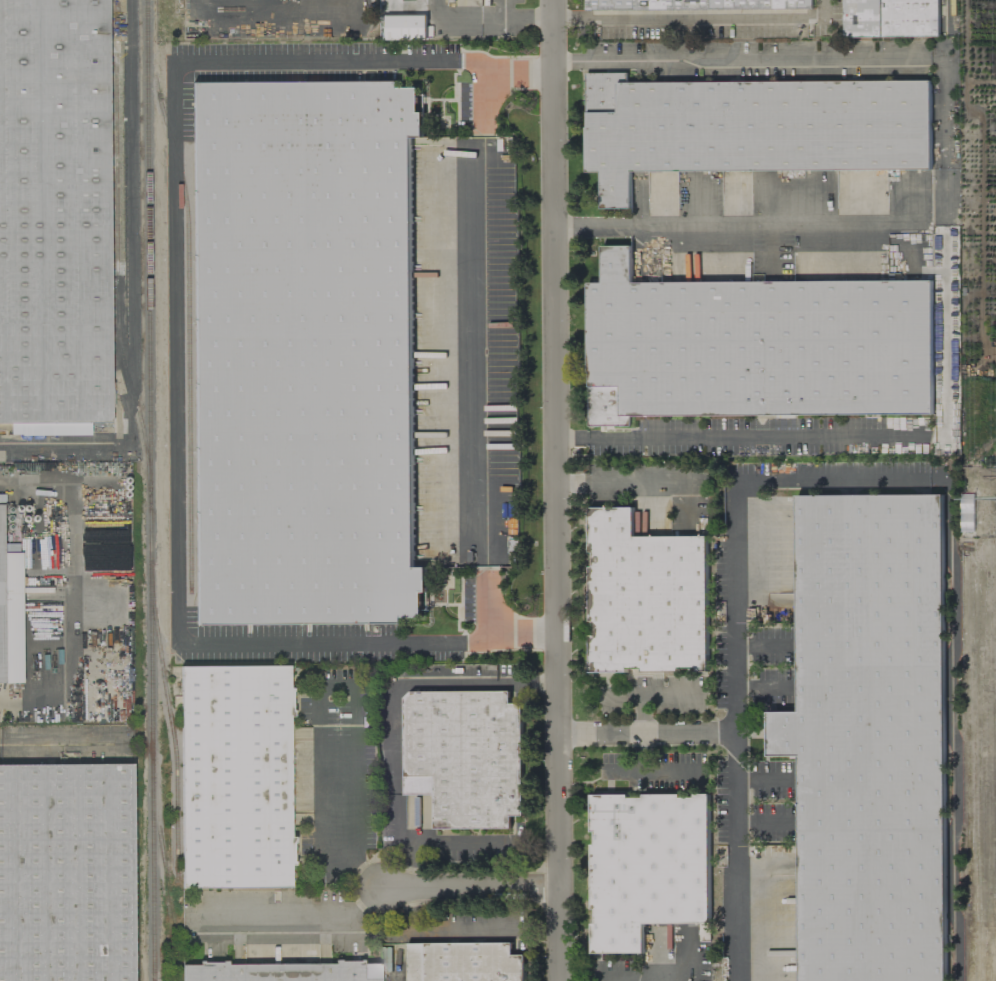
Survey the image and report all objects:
building: (696, 4)
building: (195, 16)
road: (523, 17)
building: (891, 18)
road: (699, 21)
building: (406, 27)
road: (828, 60)
building: (751, 127)
building: (54, 217)
road: (131, 222)
road: (742, 222)
railway: (115, 264)
railway: (187, 331)
road: (177, 346)
building: (755, 347)
road: (478, 351)
building: (304, 353)
road: (850, 436)
road: (63, 444)
road: (629, 480)
road: (885, 482)
railway: (149, 490)
road: (558, 490)
power tower: (995, 500)
road: (62, 592)
building: (646, 597)
building: (10, 610)
road: (396, 709)
railway: (172, 732)
building: (870, 737)
road: (59, 745)
building: (467, 769)
building: (236, 778)
road: (338, 820)
road: (462, 853)
road: (735, 855)
building: (647, 867)
building: (66, 873)
road: (471, 888)
railway: (169, 903)
road: (295, 913)
road: (412, 917)
road: (464, 928)
road: (395, 962)
building: (464, 962)
building: (282, 972)
road: (626, 972)
road: (666, 972)

